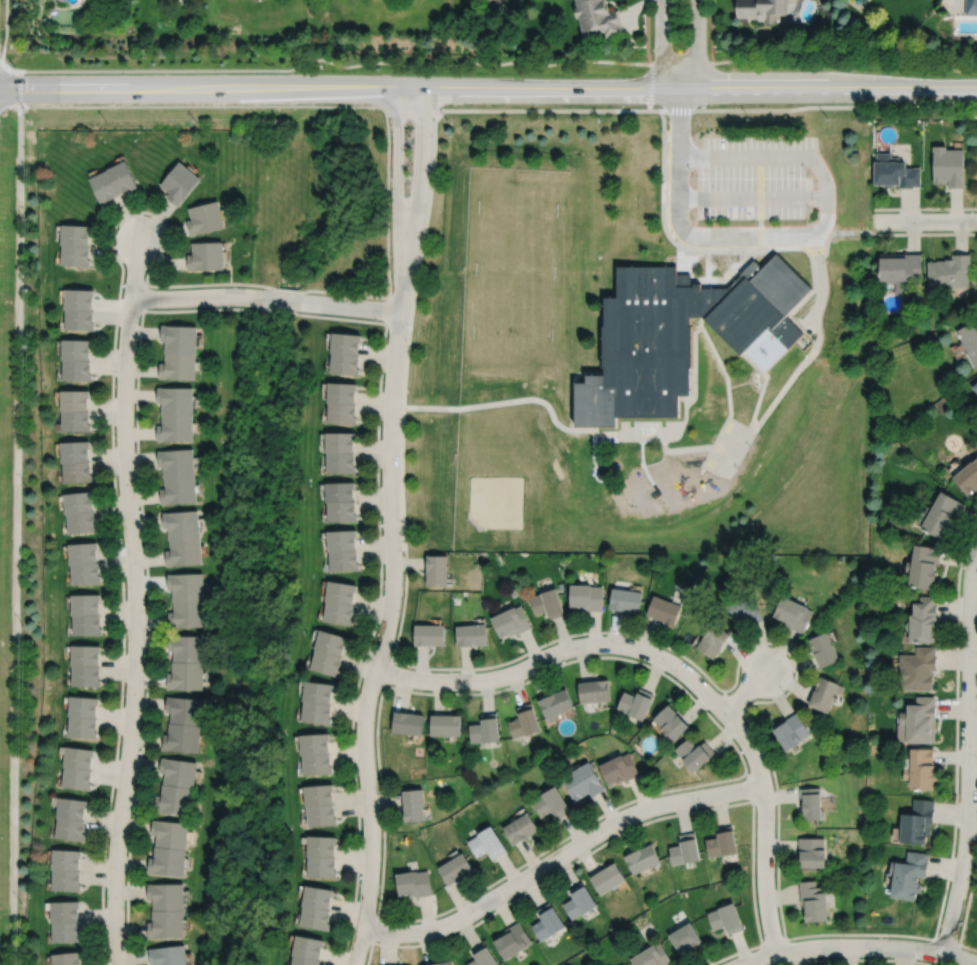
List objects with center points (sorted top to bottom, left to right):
building: (971, 7)
building: (762, 8)
building: (597, 18)
road: (6, 29)
road: (711, 30)
road: (646, 32)
road: (662, 43)
road: (696, 43)
road: (3, 59)
road: (502, 62)
street lamp: (16, 65)
road: (11, 66)
road: (488, 85)
road: (706, 85)
road: (650, 86)
road: (20, 87)
road: (201, 105)
street lamp: (25, 109)
road: (681, 109)
street lamp: (391, 131)
street lamp: (431, 134)
street lamp: (432, 135)
street lamp: (667, 137)
road: (786, 156)
building: (949, 166)
road: (397, 168)
road: (420, 168)
building: (896, 171)
street lamp: (693, 173)
street lamp: (810, 174)
building: (123, 176)
parking lot: (753, 176)
building: (179, 182)
building: (106, 186)
street lamp: (666, 192)
road: (752, 198)
road: (760, 206)
road: (925, 208)
park: (518, 211)
street lamp: (923, 211)
building: (205, 218)
road: (925, 220)
street lamp: (755, 221)
street lamp: (162, 224)
road: (842, 232)
road: (851, 232)
road: (861, 232)
road: (921, 233)
building: (77, 234)
road: (723, 235)
street lamp: (678, 241)
road: (693, 248)
building: (76, 255)
street lamp: (391, 255)
building: (206, 256)
street lamp: (826, 261)
road: (135, 267)
building: (901, 270)
building: (951, 272)
park: (515, 274)
road: (143, 296)
road: (265, 296)
road: (806, 296)
building: (80, 299)
street lamp: (222, 305)
road: (259, 307)
road: (387, 309)
road: (117, 310)
street lamp: (377, 318)
building: (81, 319)
street lamp: (139, 319)
building: (681, 335)
park: (512, 337)
building: (179, 338)
building: (971, 341)
building: (346, 343)
building: (77, 350)
building: (346, 364)
building: (178, 366)
building: (78, 370)
street lamp: (383, 380)
building: (975, 388)
building: (342, 393)
building: (75, 400)
building: (175, 400)
road: (772, 402)
building: (342, 414)
building: (77, 421)
building: (175, 426)
road: (590, 431)
street lamp: (115, 434)
building: (340, 439)
building: (76, 452)
building: (176, 460)
building: (341, 460)
building: (77, 471)
building: (968, 475)
building: (179, 488)
building: (340, 489)
building: (76, 500)
park: (496, 501)
building: (342, 509)
building: (942, 512)
building: (80, 520)
building: (181, 522)
street lamp: (381, 527)
road: (16, 535)
building: (342, 538)
building: (81, 550)
building: (183, 550)
street lamp: (967, 551)
building: (344, 558)
building: (924, 564)
building: (438, 568)
street lamp: (143, 569)
building: (84, 571)
building: (186, 585)
building: (341, 590)
building: (513, 591)
building: (585, 595)
building: (625, 598)
building: (84, 602)
building: (547, 602)
building: (747, 607)
building: (663, 608)
road: (389, 609)
building: (339, 611)
building: (187, 612)
building: (793, 612)
building: (924, 619)
building: (512, 620)
building: (85, 623)
road: (135, 630)
building: (430, 633)
building: (472, 633)
building: (713, 639)
building: (331, 641)
road: (598, 644)
building: (186, 647)
building: (823, 648)
street lamp: (391, 651)
street lamp: (748, 651)
road: (739, 653)
building: (84, 654)
building: (327, 661)
street lamp: (559, 661)
building: (918, 668)
building: (84, 674)
building: (186, 674)
road: (386, 674)
road: (674, 681)
street lamp: (678, 681)
street lamp: (461, 689)
building: (593, 690)
building: (318, 691)
road: (744, 691)
street lamp: (124, 693)
building: (823, 693)
road: (730, 701)
building: (635, 702)
building: (554, 703)
building: (82, 706)
building: (184, 709)
building: (317, 711)
building: (525, 721)
building: (670, 721)
building: (919, 721)
building: (409, 722)
building: (447, 724)
building: (82, 726)
building: (486, 728)
building: (791, 730)
building: (182, 737)
building: (314, 743)
road: (968, 752)
building: (694, 753)
building: (78, 757)
building: (317, 763)
building: (618, 768)
street lamp: (748, 769)
building: (922, 769)
building: (178, 771)
street lamp: (356, 773)
building: (76, 777)
building: (581, 781)
road: (749, 785)
building: (318, 794)
building: (174, 799)
building: (550, 803)
building: (811, 803)
building: (414, 804)
street lamp: (697, 807)
building: (72, 808)
street lamp: (130, 813)
building: (322, 815)
building: (918, 822)
road: (637, 825)
building: (521, 828)
building: (71, 829)
building: (169, 833)
building: (488, 842)
building: (722, 842)
building: (321, 846)
building: (685, 849)
building: (812, 853)
road: (559, 855)
building: (642, 859)
building: (66, 860)
building: (167, 861)
street lamp: (973, 863)
building: (321, 866)
building: (457, 869)
road: (764, 869)
building: (910, 876)
street lamp: (775, 877)
street lamp: (359, 878)
building: (607, 879)
building: (67, 880)
building: (415, 883)
building: (166, 896)
building: (317, 897)
street lamp: (508, 900)
building: (578, 901)
building: (813, 901)
road: (967, 904)
building: (65, 911)
building: (315, 918)
building: (725, 919)
building: (546, 922)
building: (166, 924)
road: (374, 929)
building: (67, 932)
building: (685, 939)
building: (513, 940)
street lamp: (791, 940)
road: (773, 941)
road: (945, 941)
street lamp: (415, 942)
road: (857, 946)
building: (307, 947)
street lamp: (106, 950)
building: (168, 955)
building: (484, 956)
building: (652, 957)
building: (68, 959)
road: (857, 959)
street lamp: (922, 960)
building: (304, 961)
building: (446, 963)
building: (622, 964)
building: (624, 964)

